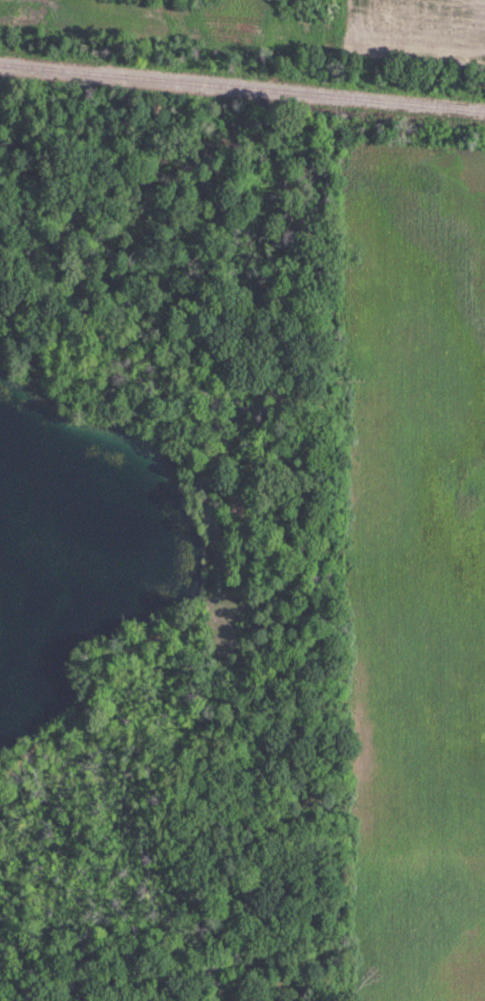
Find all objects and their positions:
railway: (242, 88)

